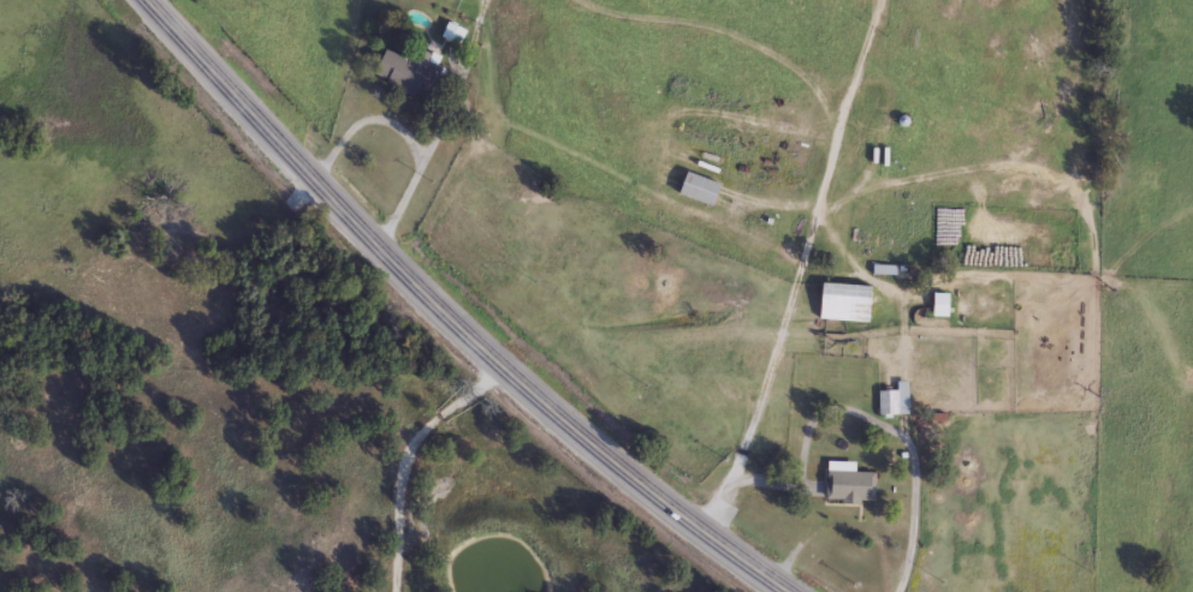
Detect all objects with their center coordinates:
building: (406, 68)
road: (411, 137)
road: (833, 184)
building: (696, 185)
building: (842, 298)
building: (938, 300)
road: (452, 317)
building: (885, 399)
building: (845, 479)

